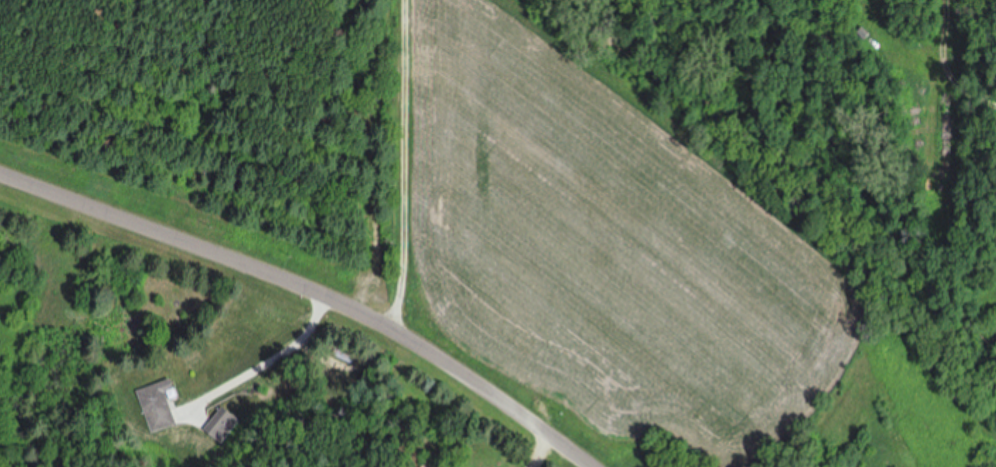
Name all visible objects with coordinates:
road: (311, 296)
building: (157, 407)

